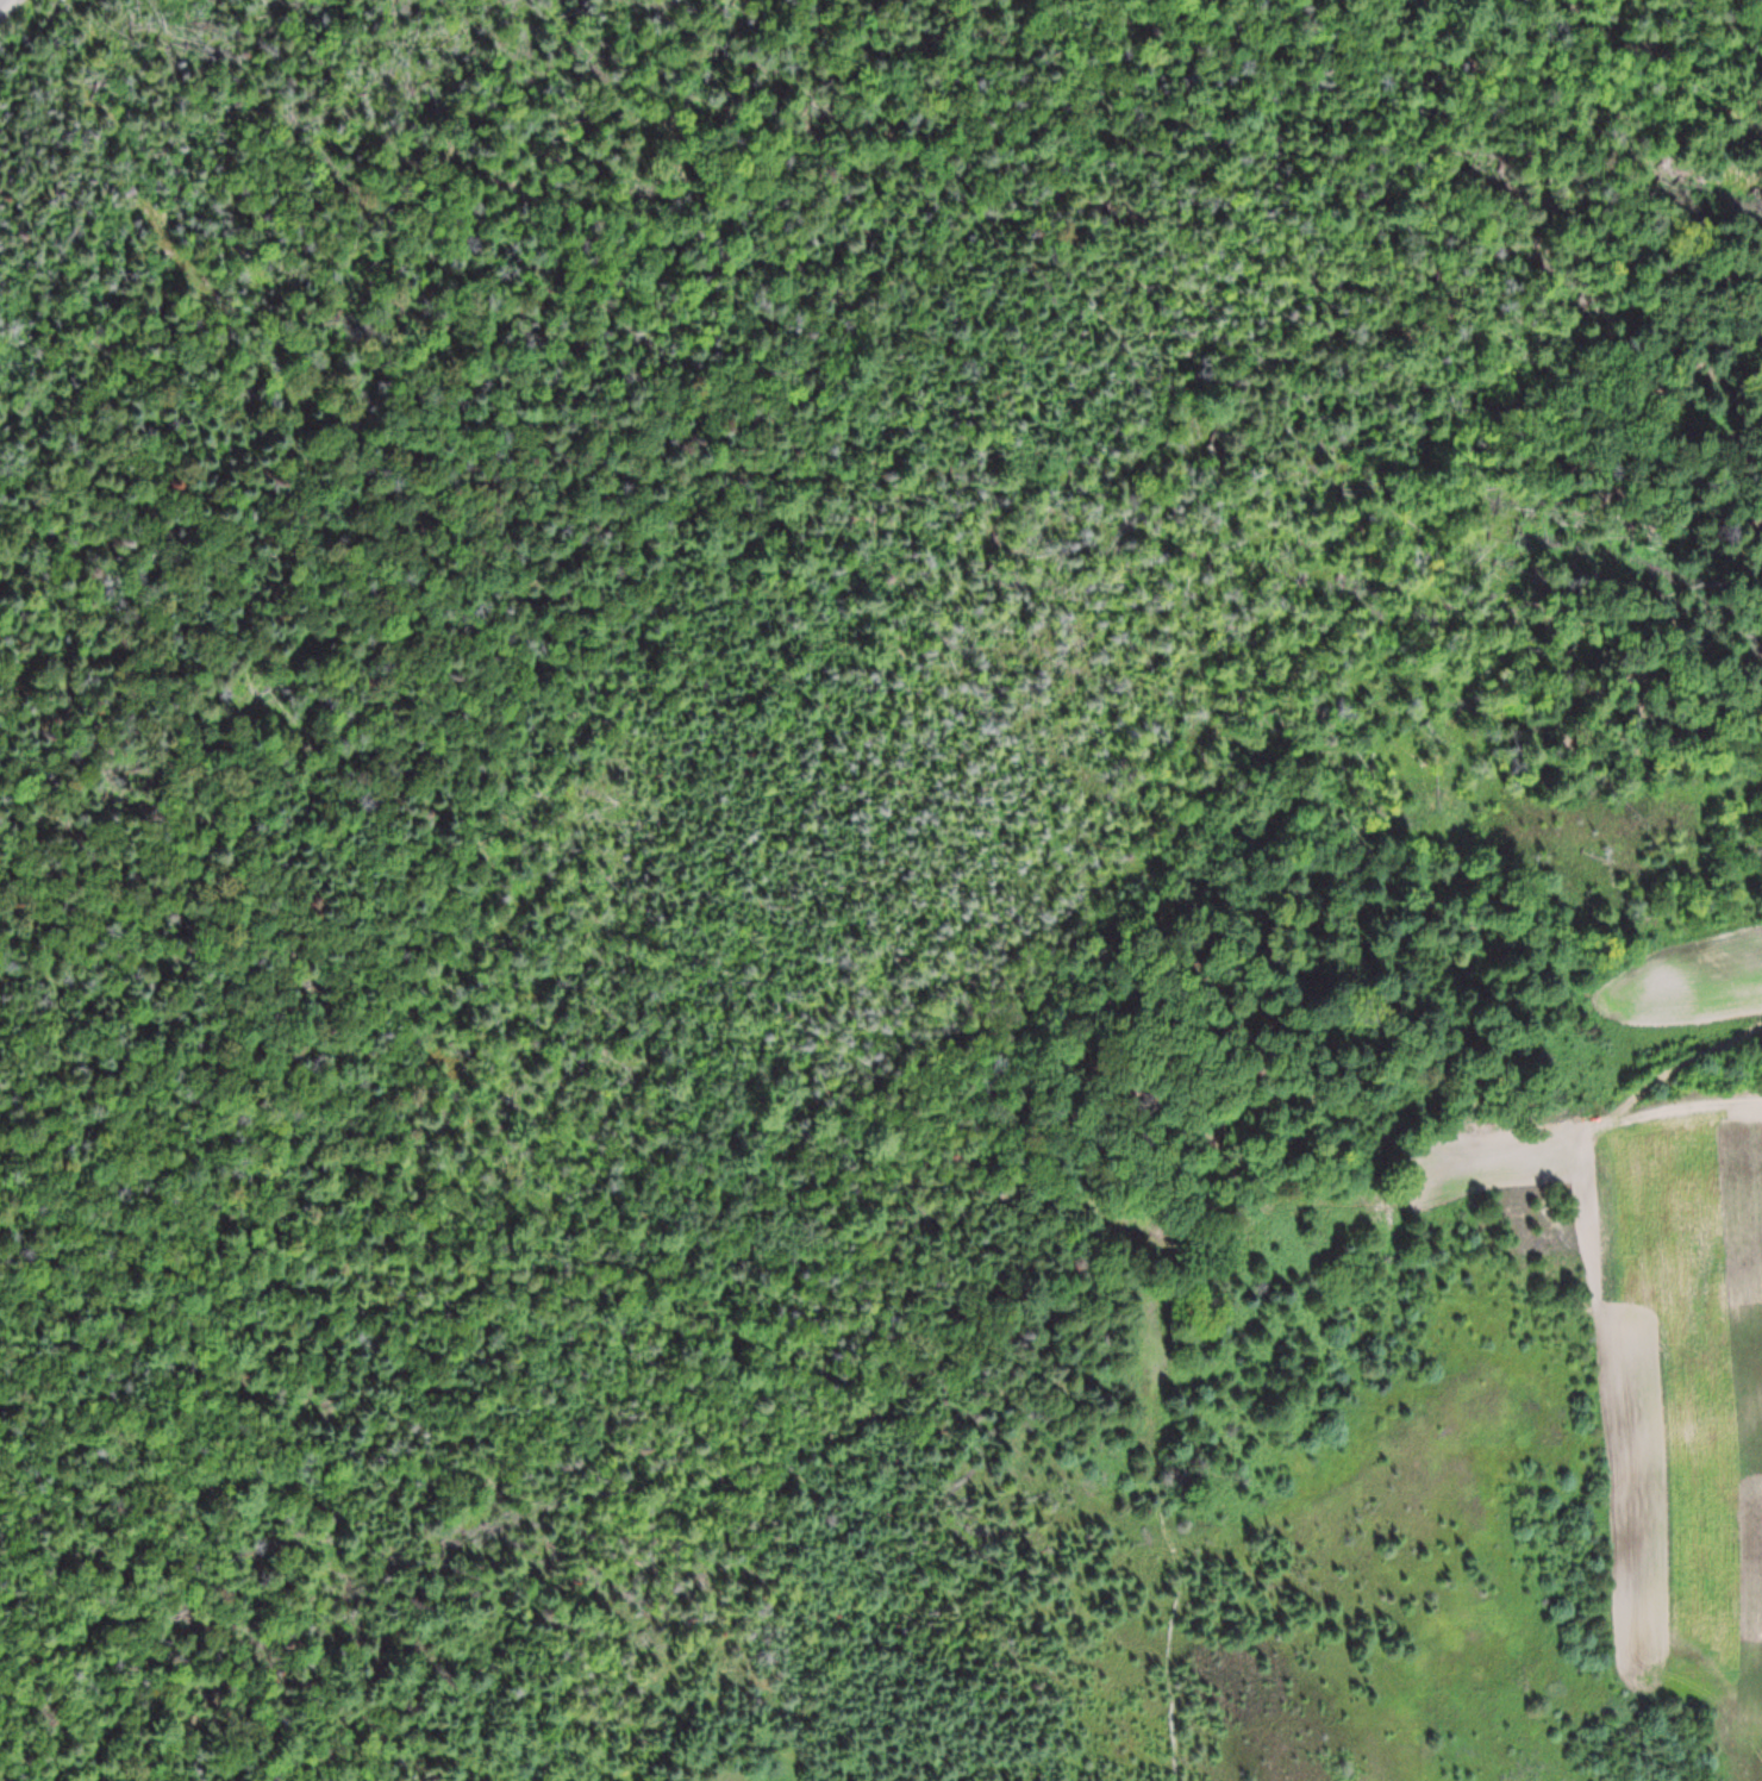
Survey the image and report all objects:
road: (4, 5)

